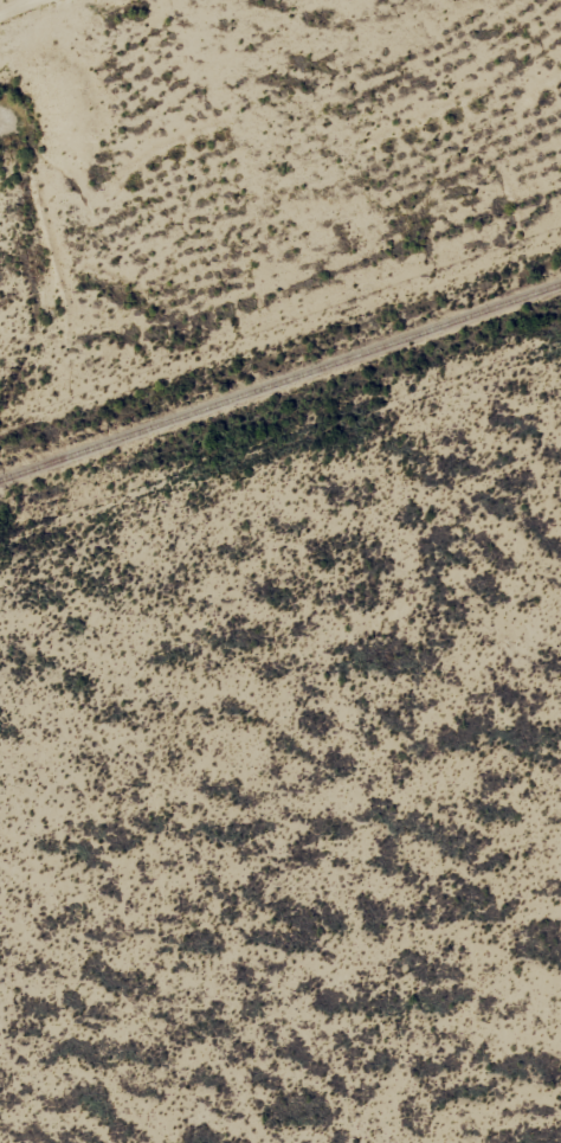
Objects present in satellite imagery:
road: (282, 287)
railway: (280, 381)
road: (280, 492)

